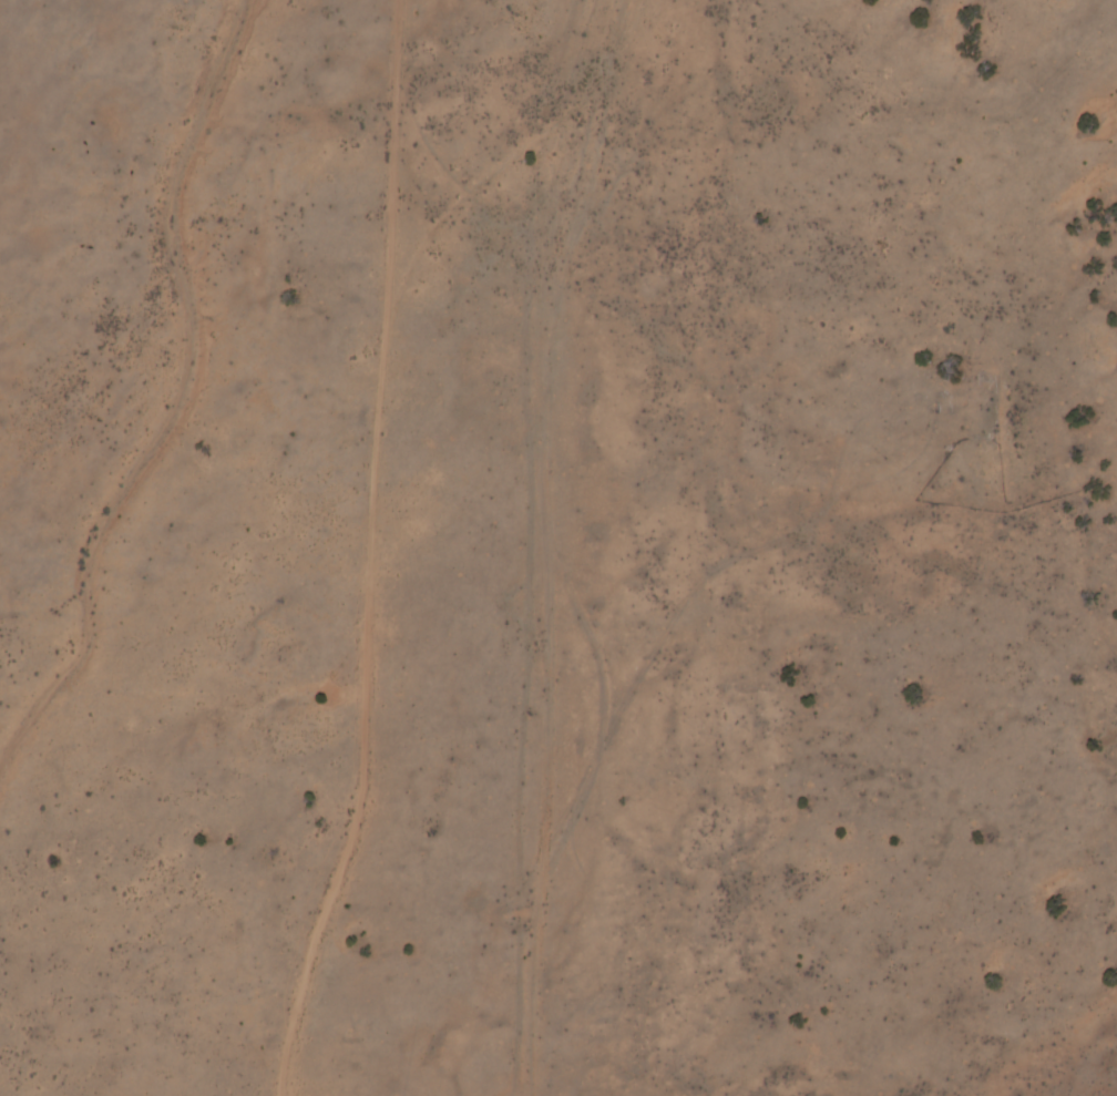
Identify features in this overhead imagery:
road: (577, 545)

